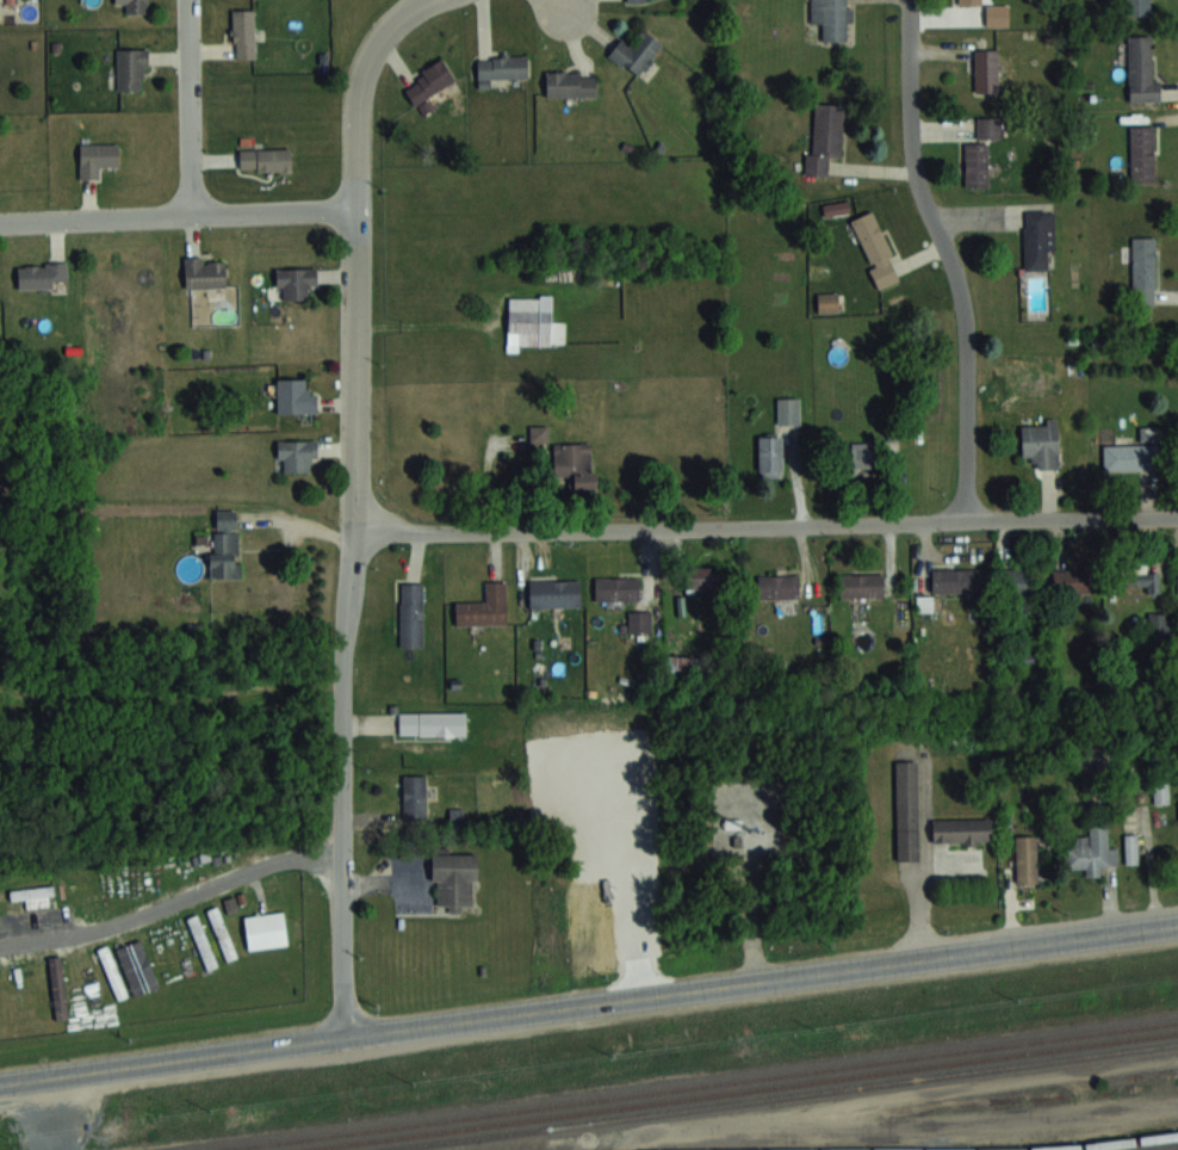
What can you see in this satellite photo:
building: (969, 1)
building: (135, 6)
road: (562, 6)
building: (1137, 7)
building: (997, 14)
building: (831, 18)
building: (242, 35)
building: (635, 51)
building: (500, 67)
building: (131, 69)
building: (985, 69)
building: (1141, 69)
building: (428, 82)
building: (570, 82)
road: (182, 107)
building: (988, 126)
building: (825, 137)
building: (1142, 153)
building: (97, 159)
building: (265, 159)
building: (976, 163)
road: (175, 216)
building: (1038, 239)
building: (875, 249)
road: (351, 251)
road: (945, 258)
building: (1143, 270)
building: (204, 273)
building: (42, 274)
building: (294, 282)
building: (827, 302)
building: (532, 320)
building: (294, 396)
building: (788, 409)
building: (538, 433)
building: (1041, 443)
building: (770, 453)
building: (297, 455)
building: (858, 456)
building: (1130, 456)
building: (576, 464)
road: (765, 524)
building: (225, 543)
building: (1139, 575)
building: (701, 576)
building: (956, 580)
building: (1075, 580)
building: (777, 585)
building: (861, 585)
building: (616, 587)
building: (553, 592)
building: (1019, 592)
building: (484, 606)
building: (411, 613)
building: (639, 620)
building: (678, 664)
building: (432, 722)
road: (337, 784)
building: (1161, 792)
building: (415, 796)
building: (903, 811)
building: (961, 830)
building: (1131, 847)
building: (1091, 851)
building: (1027, 858)
road: (920, 861)
building: (451, 878)
road: (169, 901)
building: (261, 929)
building: (222, 932)
building: (201, 940)
road: (589, 1003)
railway: (699, 1086)
railway: (738, 1090)
railway: (783, 1096)
railway: (1110, 1143)
railway: (1164, 1148)

